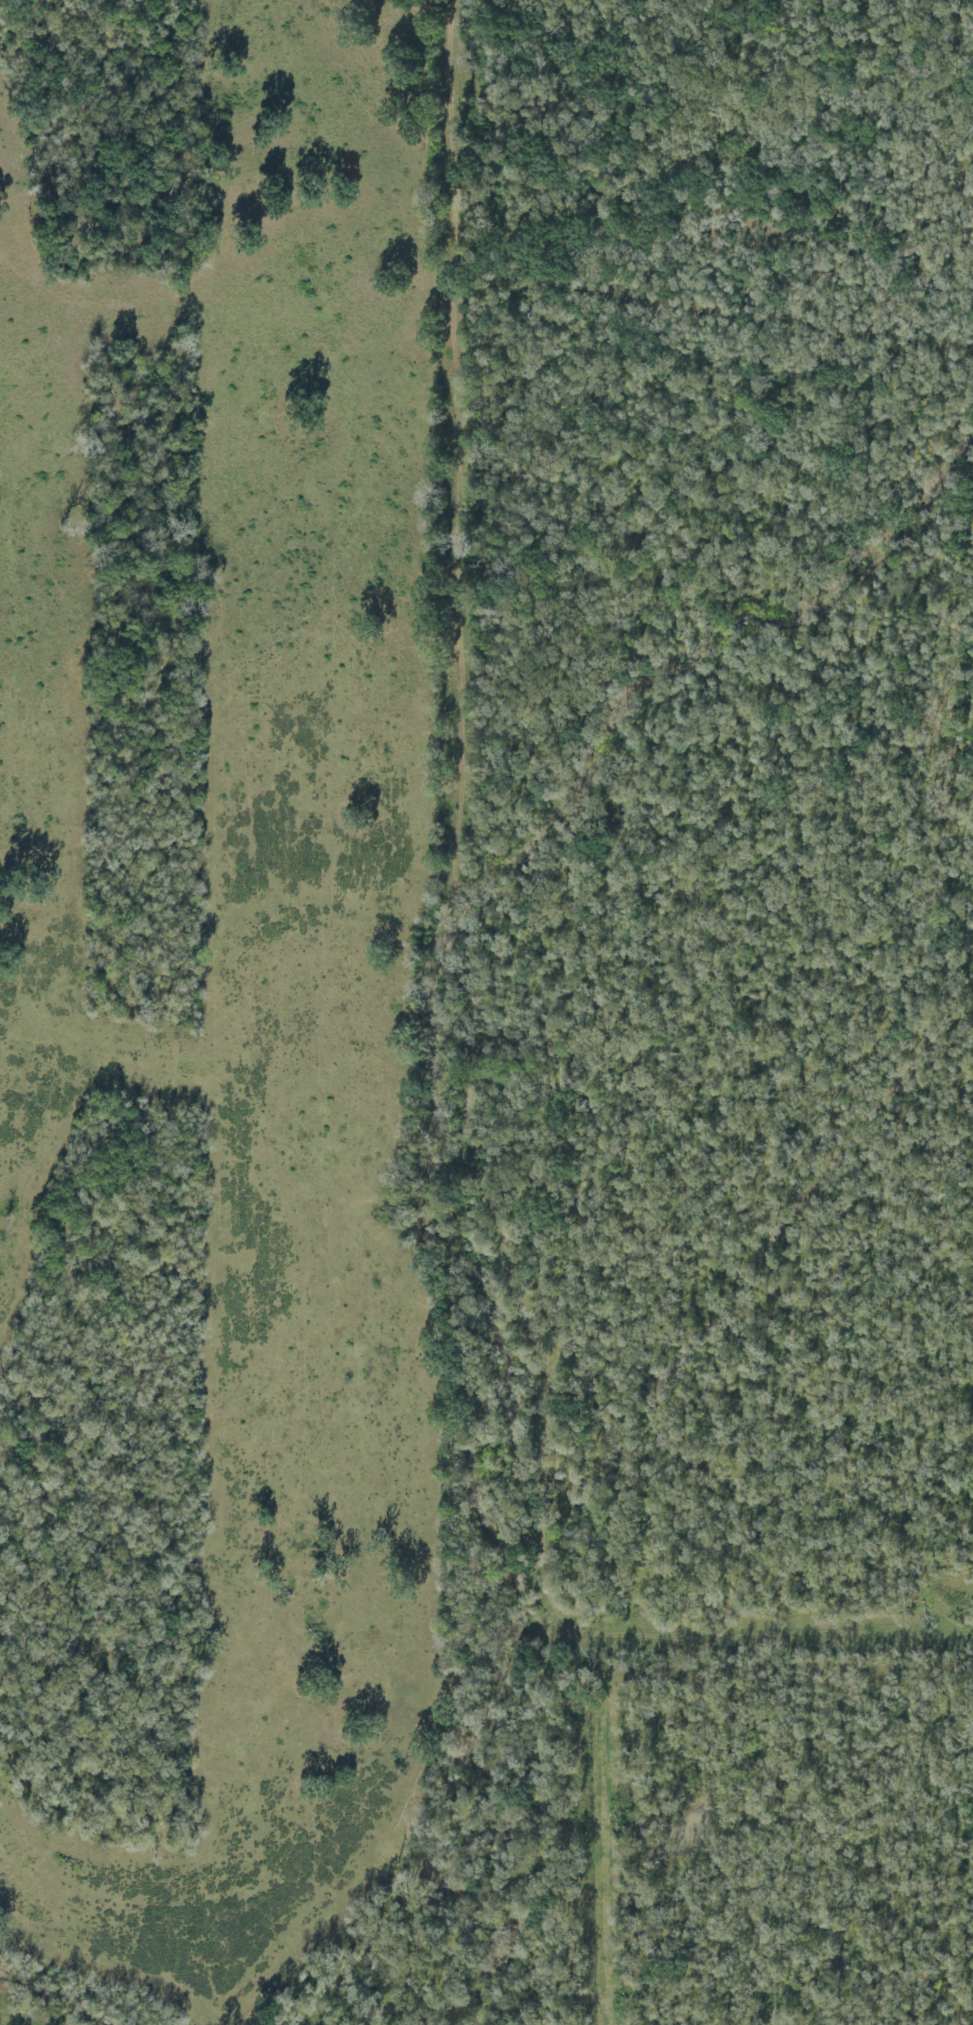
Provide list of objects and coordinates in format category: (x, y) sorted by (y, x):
river: (72, 2001)

